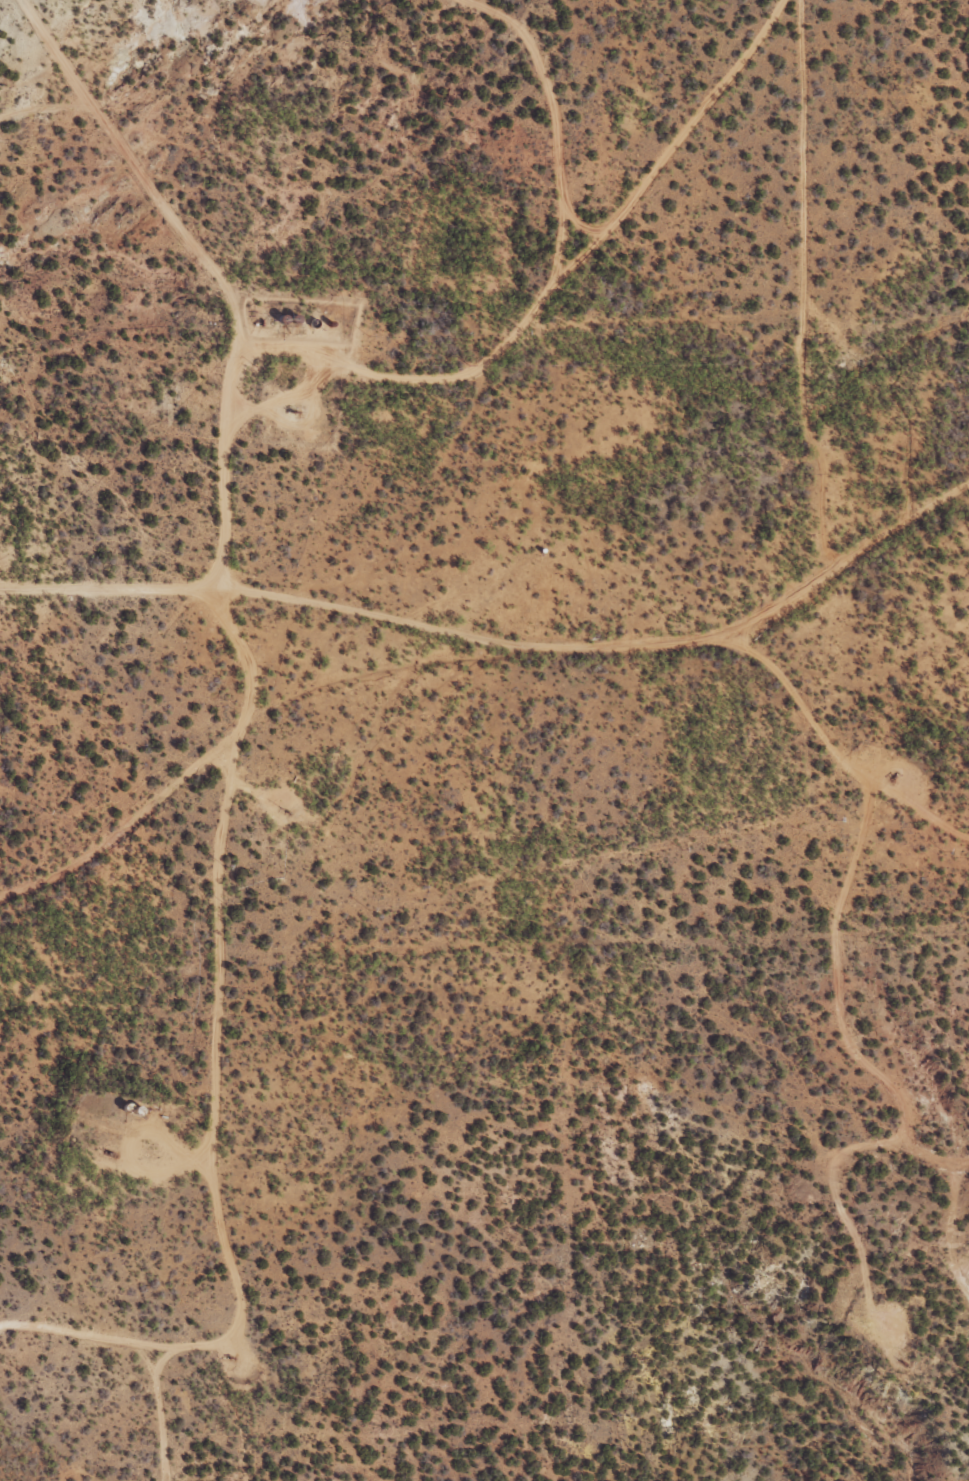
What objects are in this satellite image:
road: (786, 21)
road: (561, 284)
road: (927, 541)
road: (128, 606)
road: (533, 676)
road: (225, 774)
road: (218, 1087)

